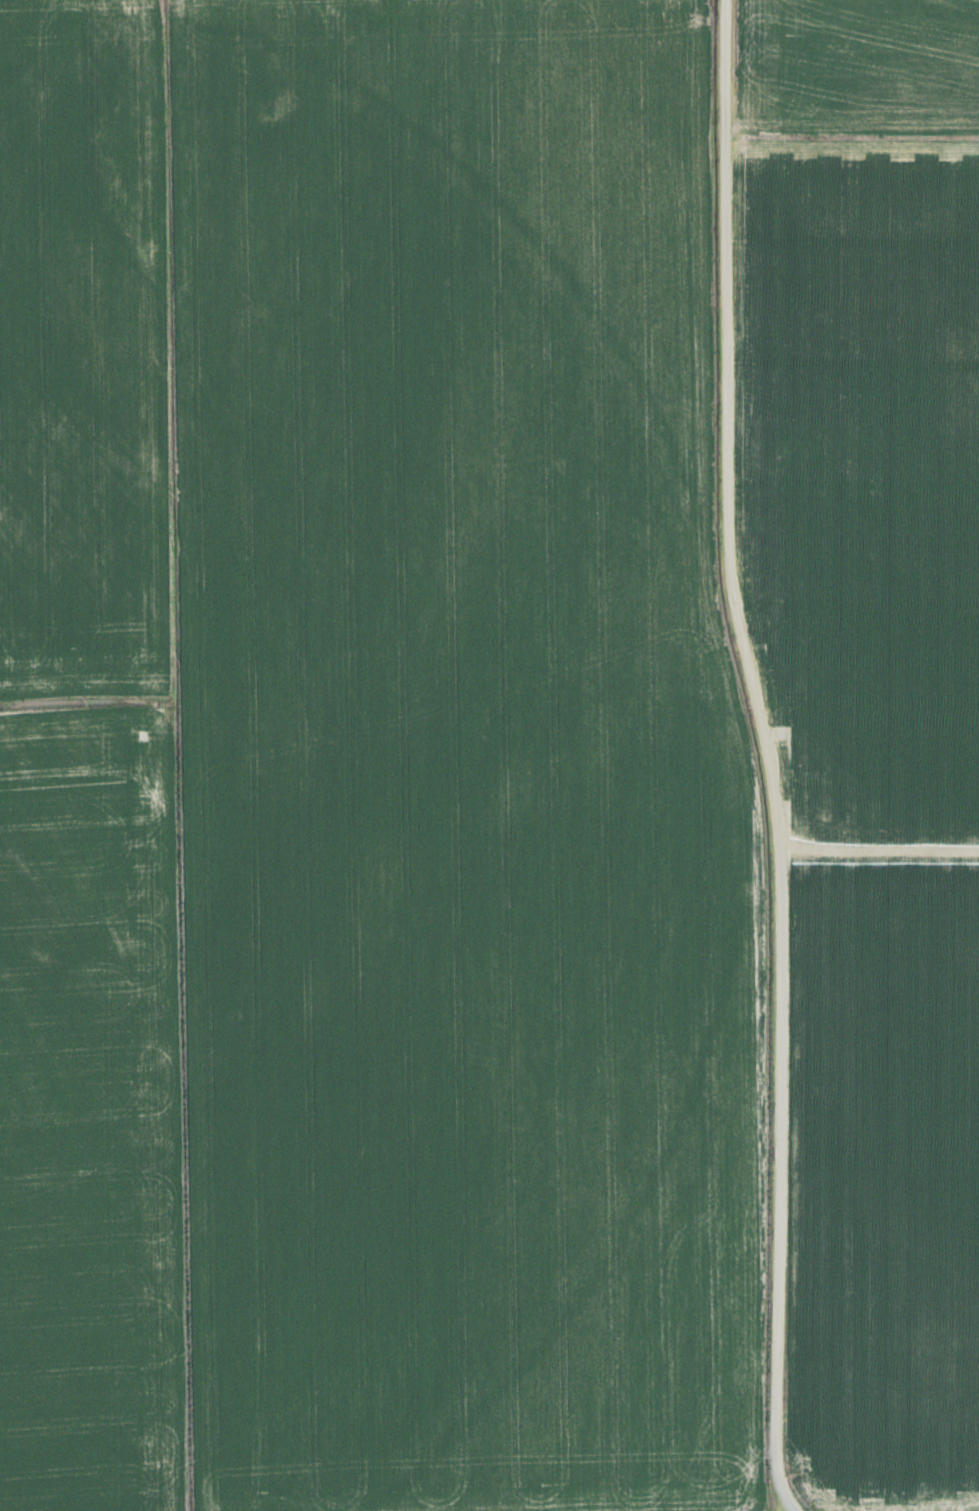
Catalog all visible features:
road: (766, 756)

